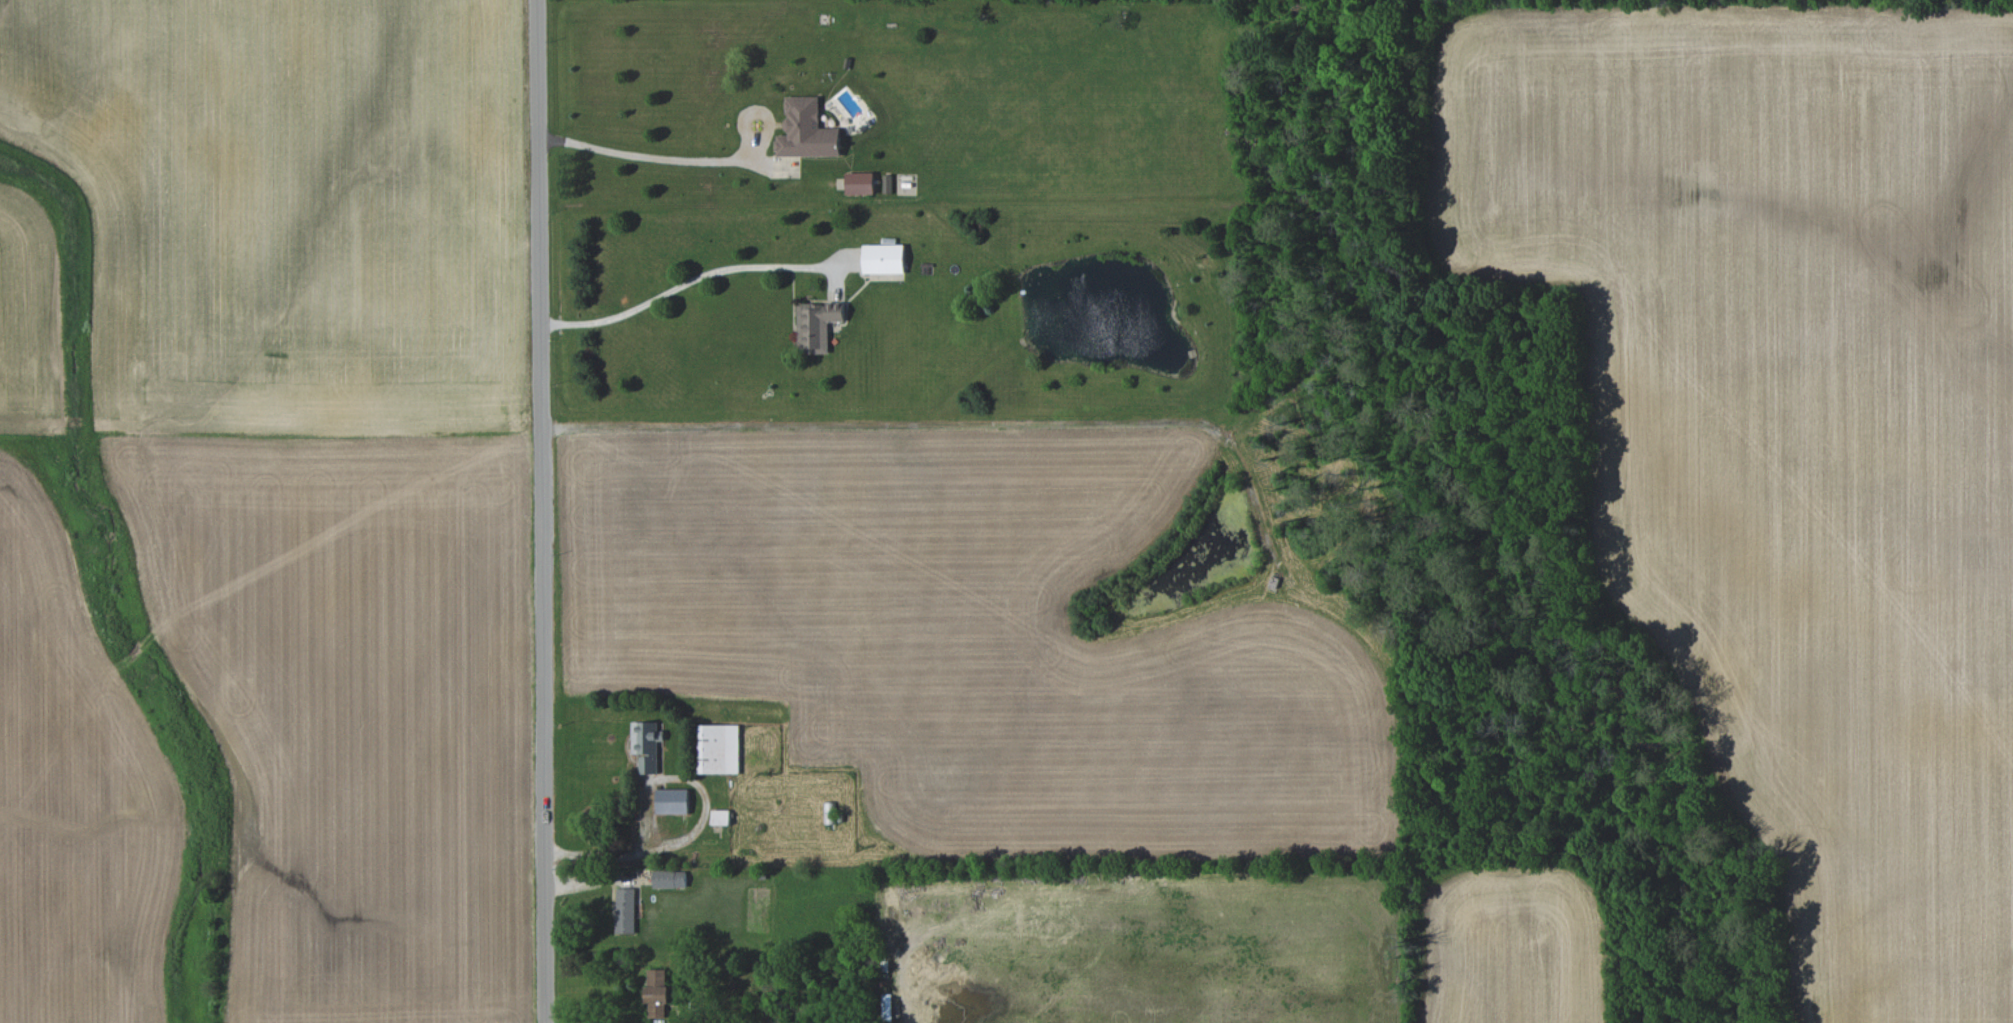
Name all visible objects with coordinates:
building: (806, 130)
road: (648, 156)
building: (859, 183)
building: (883, 258)
road: (668, 292)
building: (816, 325)
road: (541, 511)
building: (646, 744)
building: (717, 748)
road: (648, 786)
building: (673, 801)
building: (720, 817)
building: (669, 879)
building: (625, 910)
road: (1903, 948)
building: (656, 993)

